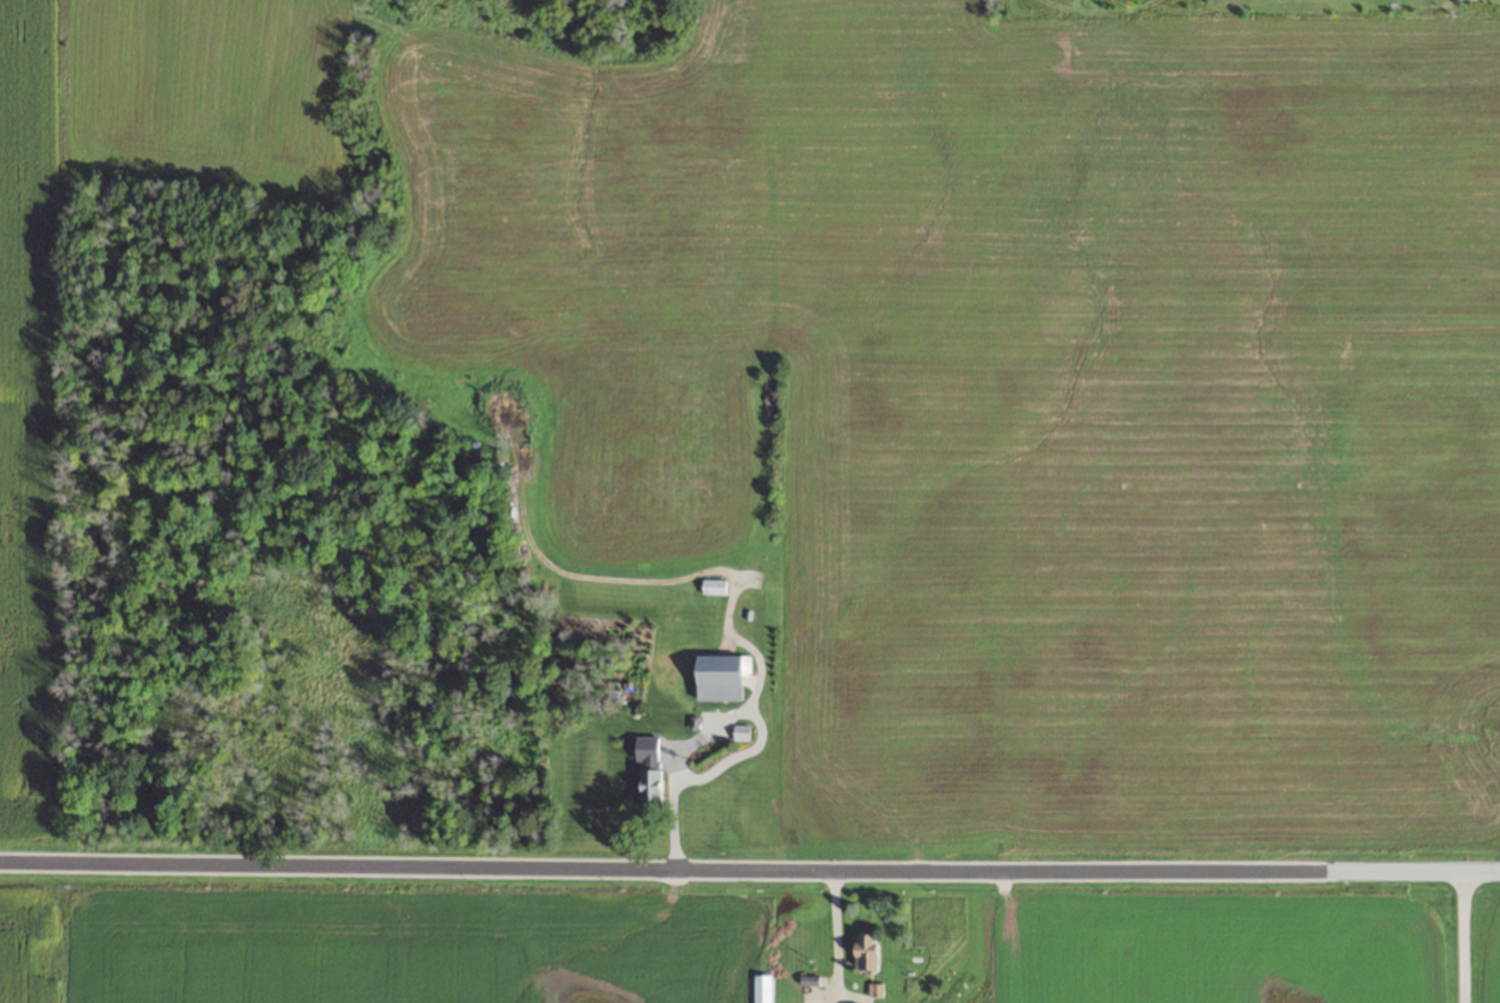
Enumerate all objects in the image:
crop: (1012, 393)
building: (713, 585)
building: (719, 676)
building: (740, 731)
building: (649, 784)
road: (749, 871)
road: (1464, 938)
building: (865, 954)
building: (807, 980)
building: (761, 988)
building: (874, 990)

